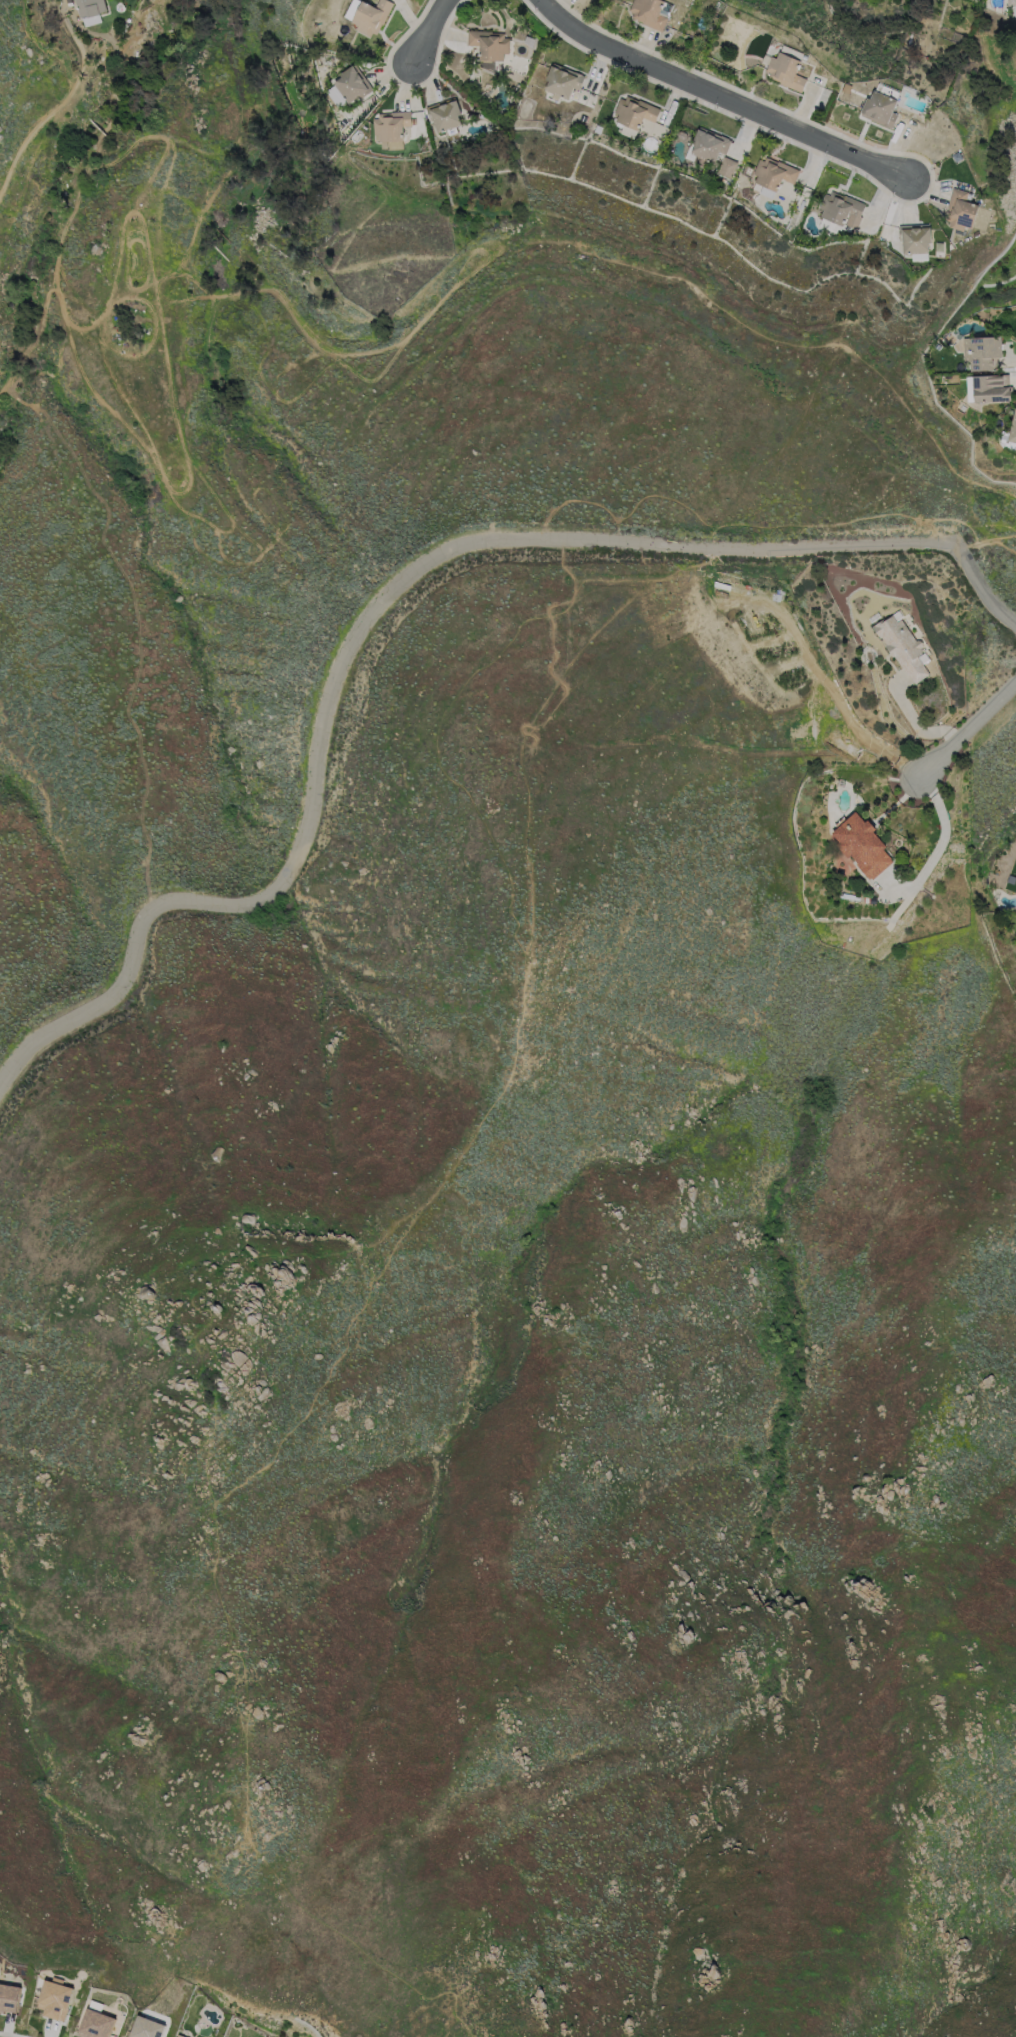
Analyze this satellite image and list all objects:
building: (1011, 2)
building: (89, 7)
building: (647, 12)
building: (367, 15)
road: (424, 31)
building: (489, 44)
building: (785, 70)
building: (563, 81)
building: (346, 86)
road: (726, 92)
building: (880, 105)
building: (633, 110)
building: (444, 116)
building: (390, 129)
building: (707, 145)
building: (725, 166)
building: (773, 172)
building: (841, 208)
building: (960, 210)
building: (914, 237)
building: (982, 351)
building: (987, 387)
building: (1012, 433)
road: (1015, 501)
road: (385, 603)
building: (903, 647)
road: (970, 731)
road: (943, 834)
building: (860, 845)
building: (9, 1998)
building: (54, 1999)
building: (96, 2022)
building: (145, 2028)

